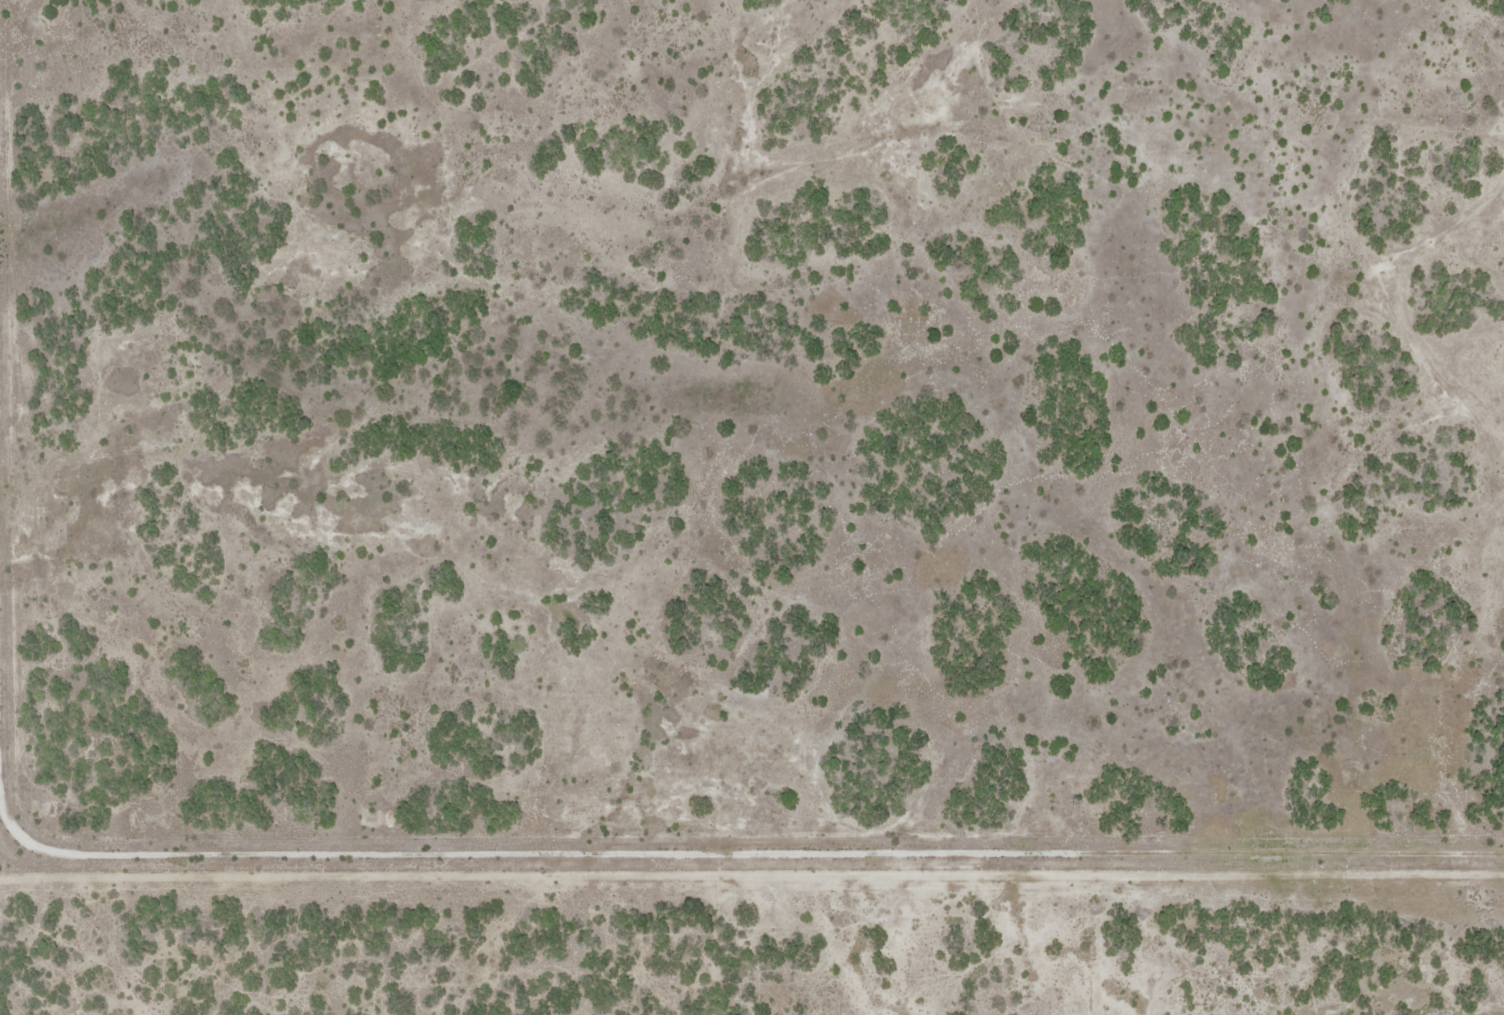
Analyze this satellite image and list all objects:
road: (0, 1006)

